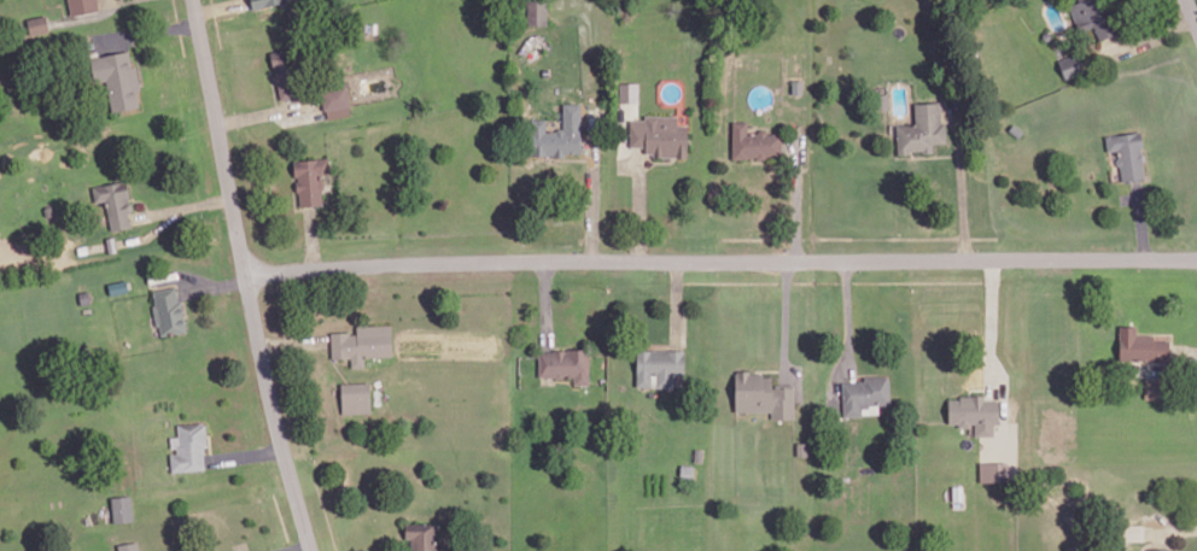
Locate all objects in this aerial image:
building: (264, 2)
building: (83, 6)
road: (1192, 10)
building: (537, 13)
building: (1090, 17)
building: (37, 24)
building: (117, 80)
building: (629, 92)
building: (335, 100)
building: (922, 129)
building: (559, 133)
building: (659, 135)
building: (754, 142)
building: (1127, 154)
building: (311, 181)
road: (959, 183)
building: (115, 203)
road: (589, 203)
road: (722, 262)
road: (185, 276)
road: (249, 276)
building: (118, 285)
road: (214, 285)
building: (84, 294)
building: (168, 311)
road: (846, 318)
road: (992, 318)
building: (362, 344)
building: (1141, 346)
road: (1186, 347)
building: (565, 364)
building: (658, 367)
building: (864, 393)
building: (763, 395)
building: (355, 398)
building: (974, 414)
building: (188, 447)
building: (993, 470)
building: (123, 506)
building: (1129, 529)
road: (1172, 529)
building: (421, 535)
building: (129, 546)
building: (1161, 549)

